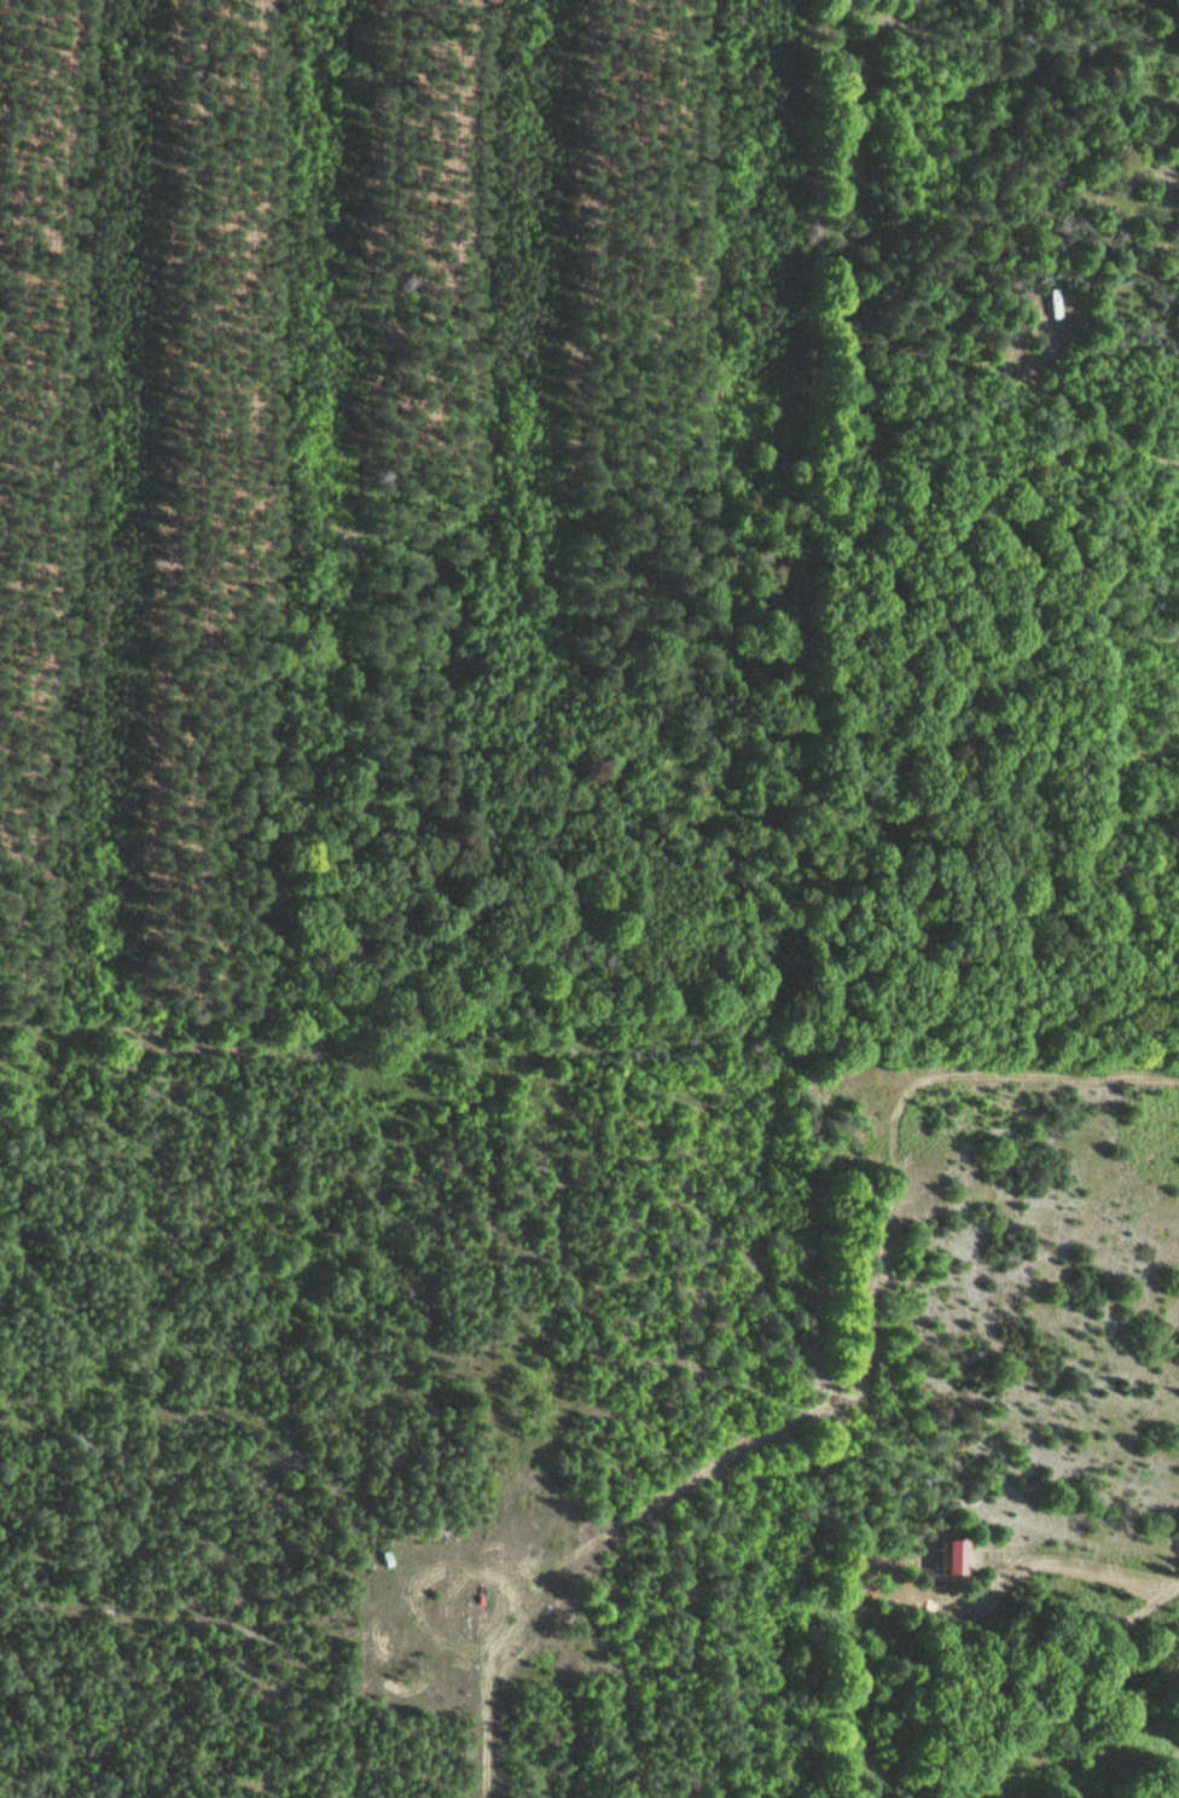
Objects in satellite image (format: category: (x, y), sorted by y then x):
road: (588, 1073)
road: (840, 1438)

